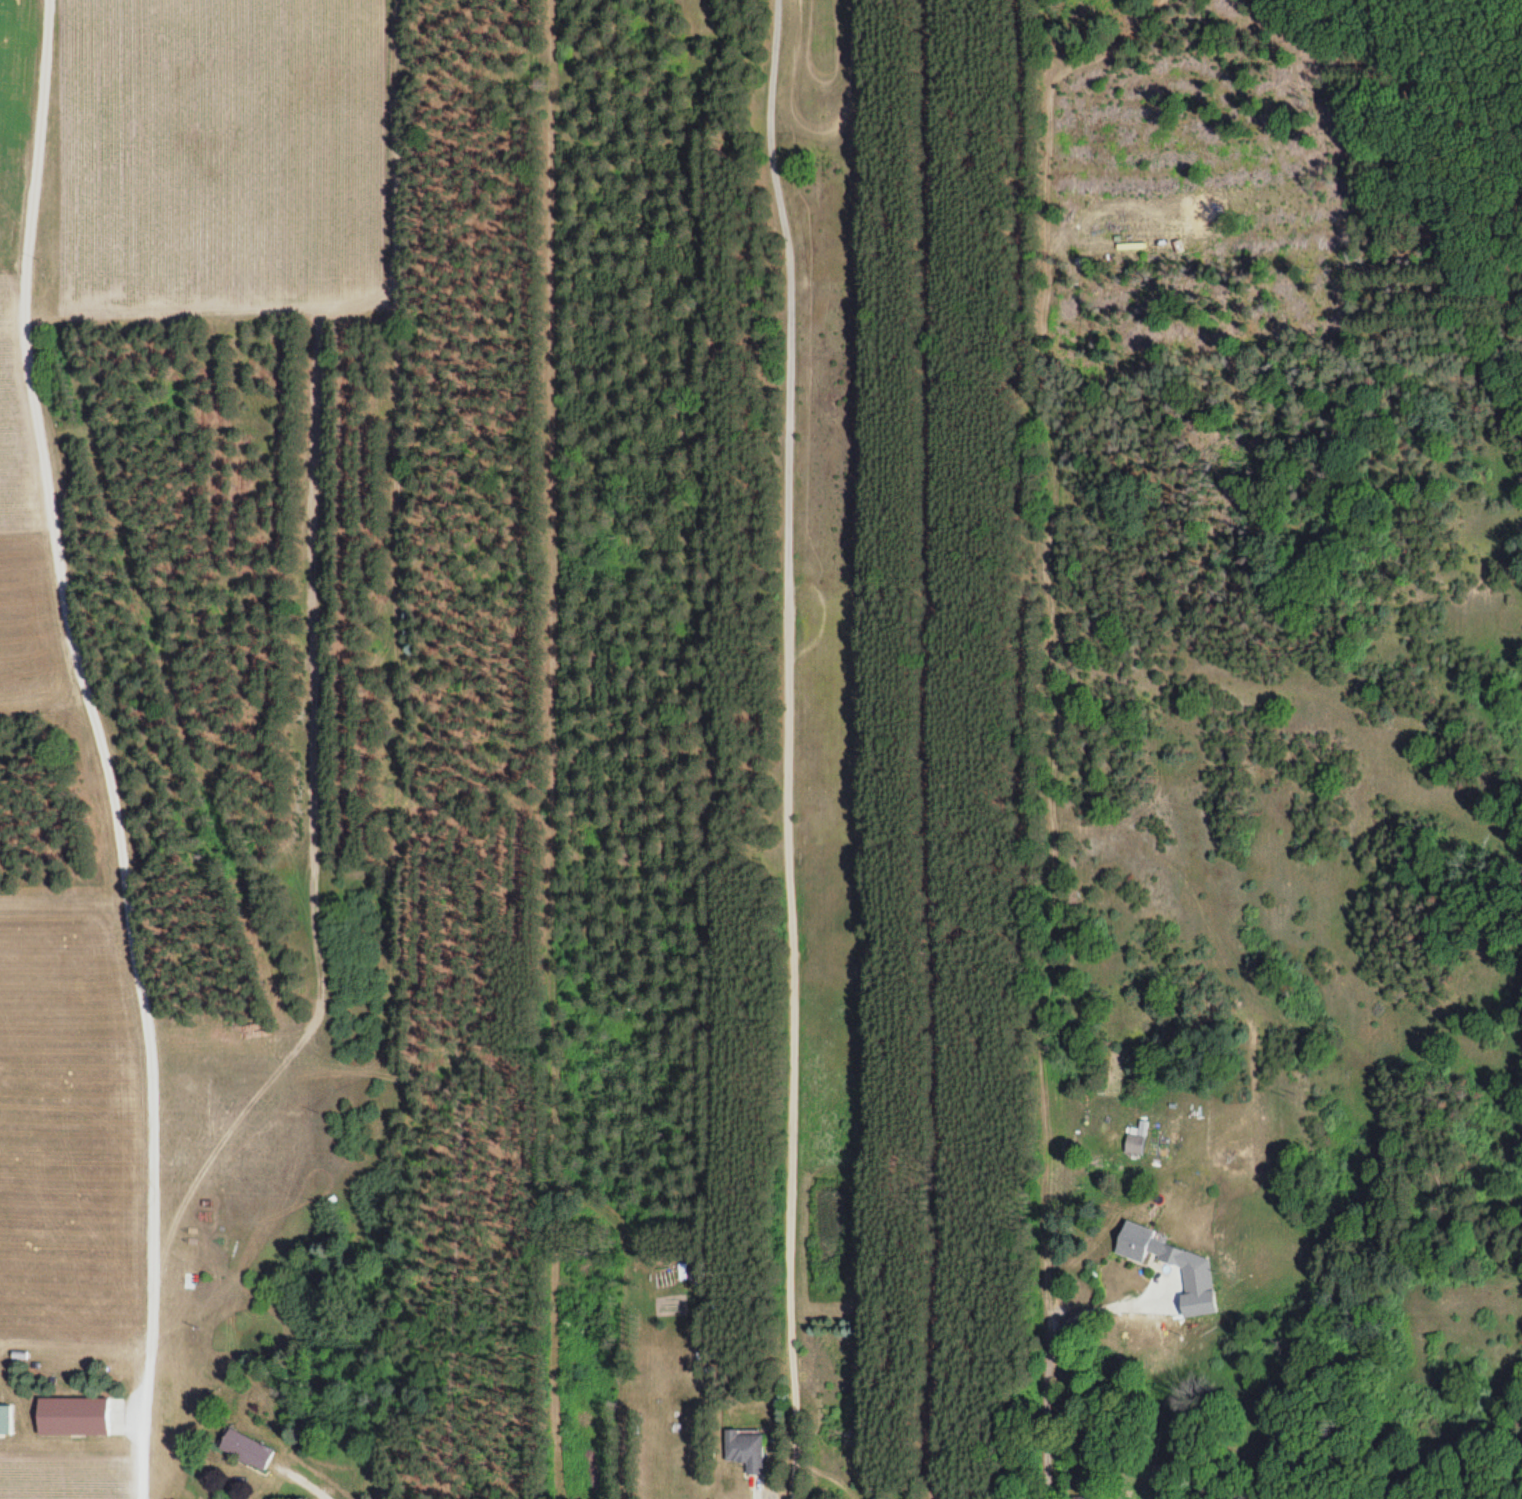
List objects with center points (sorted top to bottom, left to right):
road: (102, 747)
road: (786, 748)
building: (1134, 1144)
building: (1145, 1245)
building: (80, 1417)
building: (7, 1420)
building: (245, 1450)
building: (746, 1451)
building: (1083, 1497)

